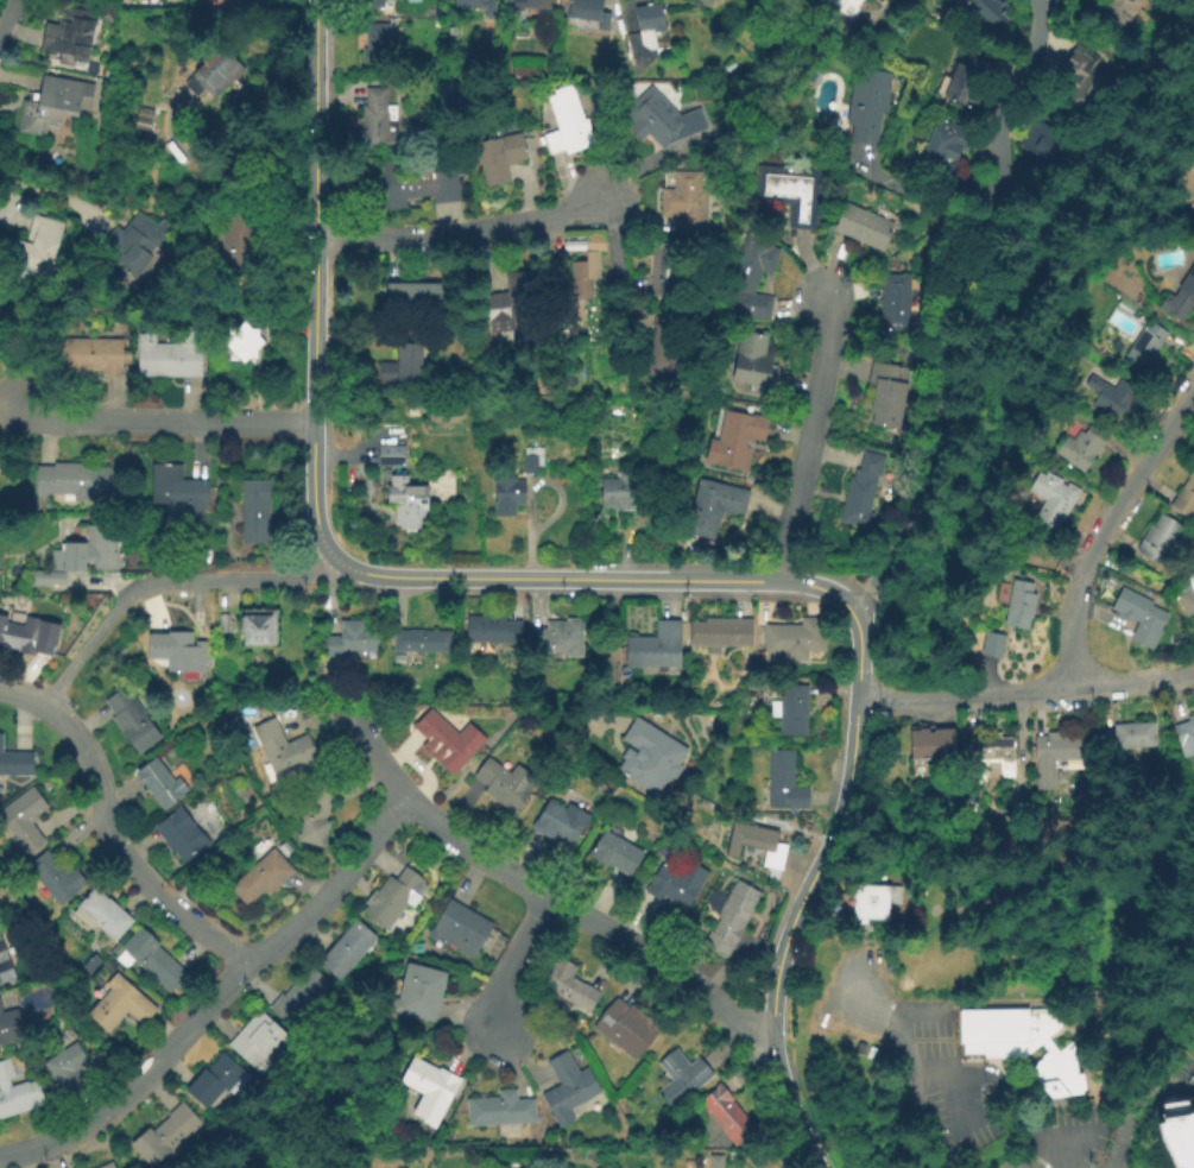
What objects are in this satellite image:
building: (411, 1)
building: (839, 1)
building: (705, 2)
building: (371, 4)
building: (530, 5)
building: (475, 6)
building: (106, 11)
road: (5, 12)
building: (588, 13)
building: (1117, 14)
building: (984, 15)
building: (649, 19)
building: (68, 30)
building: (450, 34)
building: (375, 45)
building: (214, 75)
building: (1079, 80)
building: (968, 81)
building: (52, 106)
building: (866, 106)
building: (373, 119)
building: (141, 120)
building: (659, 120)
building: (566, 124)
building: (1038, 145)
building: (942, 147)
building: (499, 158)
building: (418, 184)
building: (788, 195)
road: (51, 196)
road: (920, 198)
building: (686, 202)
road: (312, 211)
road: (10, 220)
building: (859, 227)
road: (461, 235)
building: (239, 236)
building: (137, 244)
building: (593, 244)
building: (33, 248)
road: (615, 265)
building: (667, 272)
building: (748, 278)
building: (582, 282)
road: (628, 284)
building: (1180, 297)
building: (410, 299)
building: (508, 304)
building: (893, 304)
road: (958, 308)
park: (29, 342)
building: (240, 345)
building: (1144, 347)
building: (662, 354)
building: (93, 356)
building: (166, 358)
building: (750, 361)
building: (403, 370)
building: (885, 396)
building: (1108, 397)
road: (8, 406)
road: (163, 422)
road: (808, 437)
building: (734, 440)
building: (1079, 448)
building: (390, 455)
building: (527, 463)
building: (72, 481)
building: (860, 490)
park: (5, 493)
building: (624, 493)
building: (177, 497)
building: (506, 497)
building: (1184, 497)
building: (1050, 500)
building: (405, 504)
building: (712, 509)
building: (254, 513)
road: (1100, 529)
building: (1157, 539)
building: (82, 557)
road: (522, 577)
road: (166, 585)
building: (1186, 595)
building: (1018, 606)
road: (1097, 614)
building: (1139, 617)
building: (222, 620)
building: (257, 629)
building: (489, 631)
building: (720, 634)
building: (18, 638)
building: (560, 638)
building: (795, 639)
building: (348, 642)
building: (418, 643)
building: (991, 646)
building: (653, 649)
road: (608, 650)
building: (182, 656)
building: (207, 690)
road: (1024, 690)
road: (23, 697)
building: (789, 709)
building: (129, 722)
building: (1186, 735)
building: (1127, 737)
building: (447, 741)
building: (930, 743)
building: (994, 747)
building: (283, 749)
building: (171, 751)
building: (1051, 752)
building: (649, 757)
building: (15, 764)
building: (783, 781)
building: (159, 783)
building: (505, 785)
building: (314, 810)
building: (556, 821)
building: (23, 822)
building: (179, 835)
building: (754, 844)
building: (283, 848)
building: (614, 853)
road: (122, 854)
building: (260, 876)
building: (55, 877)
building: (675, 884)
road: (538, 889)
road: (804, 889)
road: (823, 895)
building: (390, 899)
building: (872, 905)
building: (103, 913)
building: (727, 920)
building: (459, 928)
road: (195, 948)
building: (346, 949)
building: (2, 954)
road: (514, 958)
building: (150, 960)
building: (90, 962)
building: (1, 980)
building: (568, 986)
building: (417, 993)
building: (299, 999)
road: (219, 1003)
building: (119, 1005)
building: (11, 1025)
building: (625, 1029)
building: (1006, 1035)
building: (258, 1042)
road: (910, 1059)
building: (68, 1068)
building: (1061, 1074)
building: (678, 1078)
building: (211, 1081)
building: (567, 1088)
building: (428, 1091)
building: (17, 1093)
road: (949, 1097)
building: (499, 1111)
building: (725, 1116)
building: (1177, 1132)
building: (164, 1135)
road: (1120, 1136)
road: (1069, 1148)
road: (1021, 1154)
building: (713, 1161)
building: (106, 1166)

